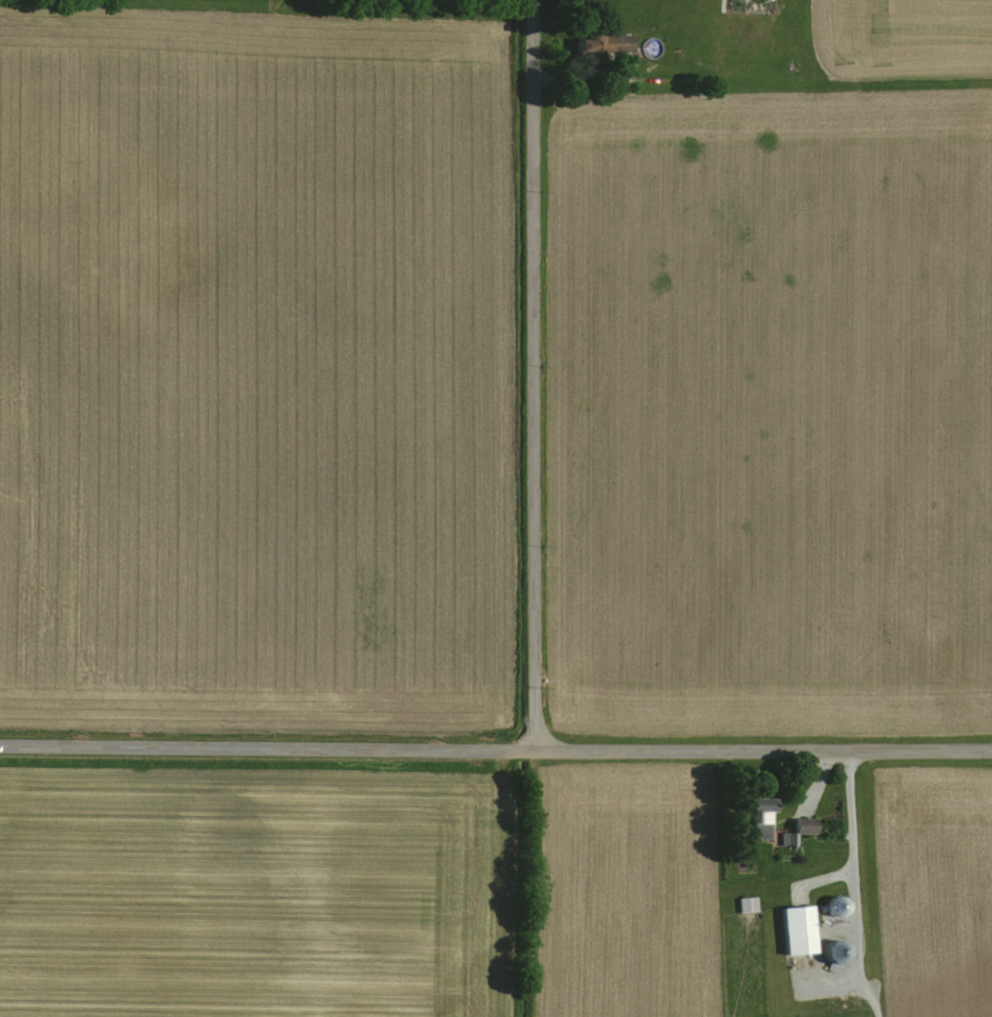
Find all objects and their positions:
building: (618, 42)
building: (588, 44)
road: (531, 374)
road: (495, 748)
building: (757, 816)
building: (797, 829)
road: (850, 836)
building: (746, 904)
building: (797, 929)

